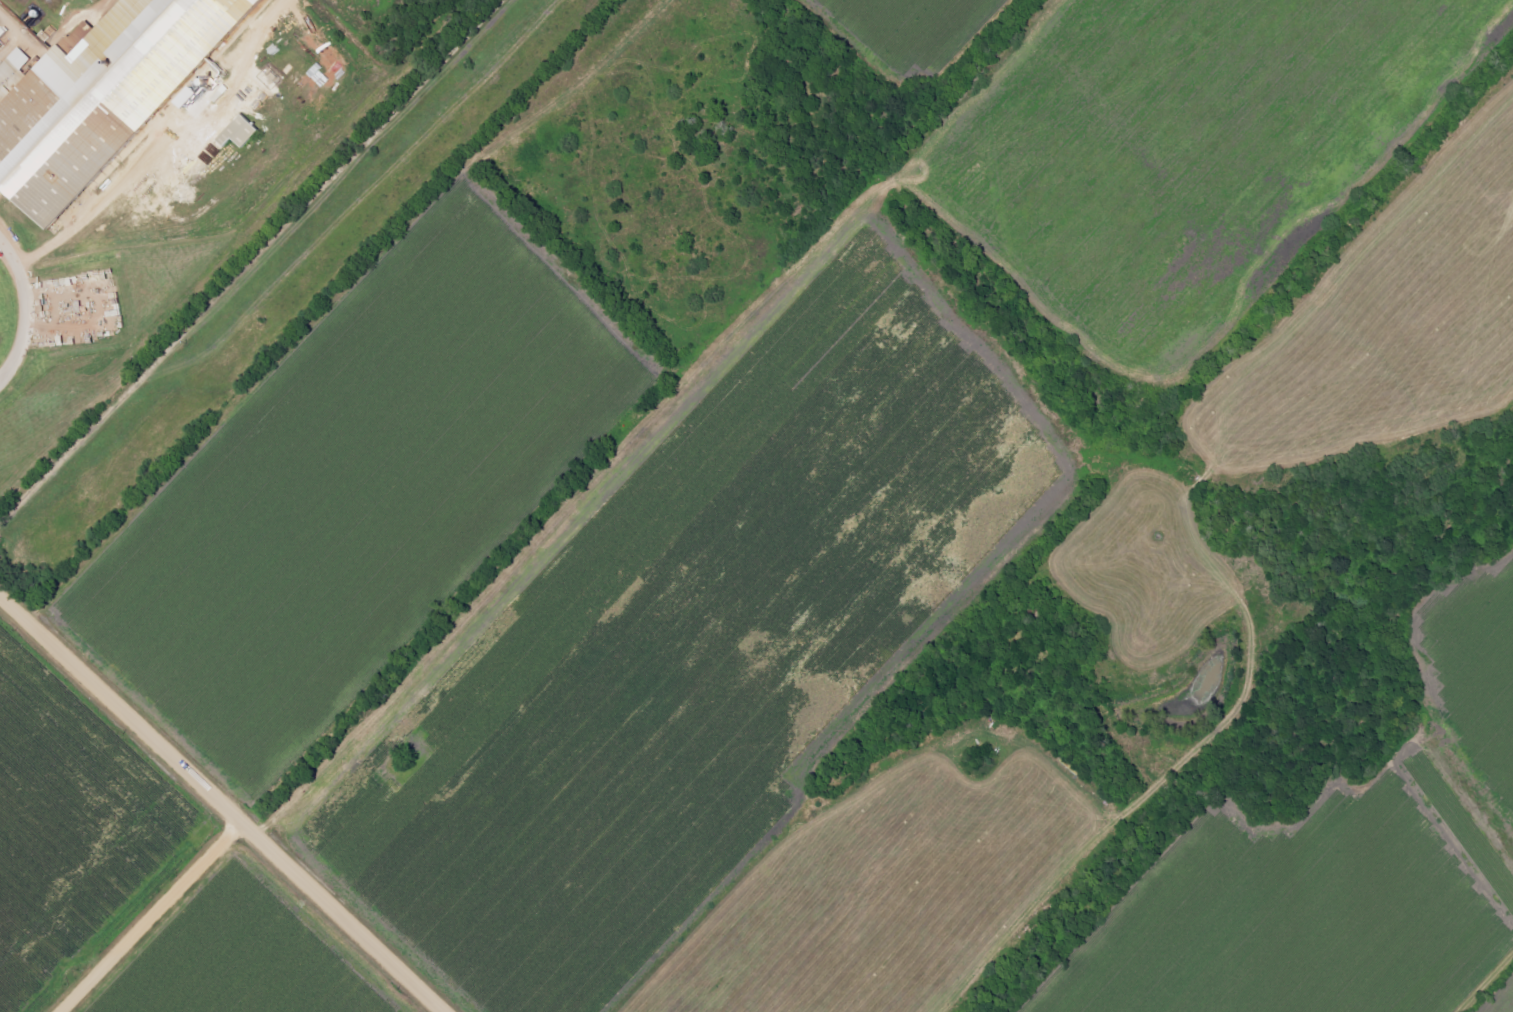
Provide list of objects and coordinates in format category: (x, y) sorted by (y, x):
road: (18, 37)
crop: (911, 45)
building: (254, 94)
building: (106, 95)
building: (247, 131)
road: (160, 140)
crop: (1179, 148)
road: (253, 267)
road: (30, 311)
crop: (365, 487)
crop: (689, 631)
road: (224, 801)
crop: (67, 823)
road: (153, 916)

